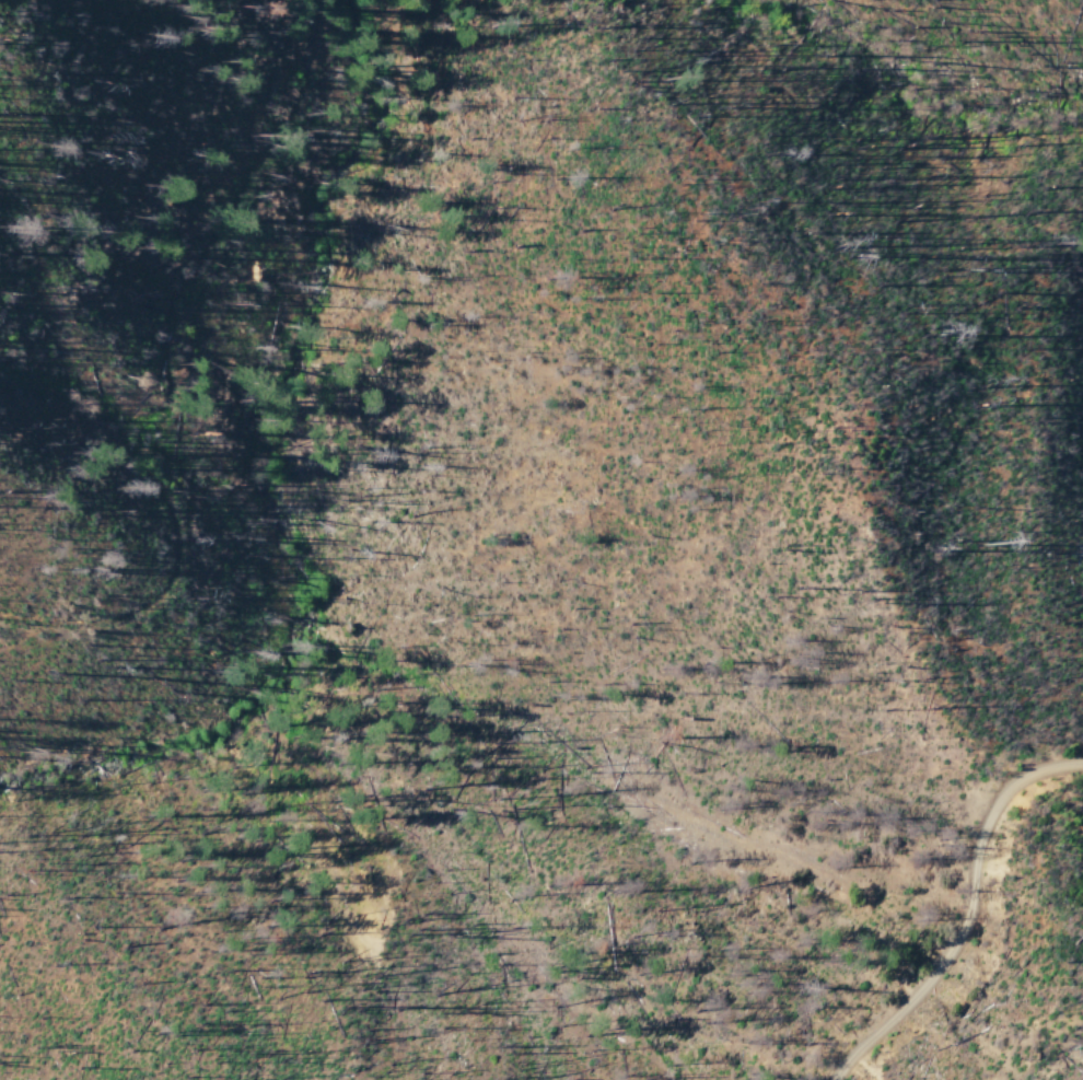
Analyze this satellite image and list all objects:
road: (888, 887)

